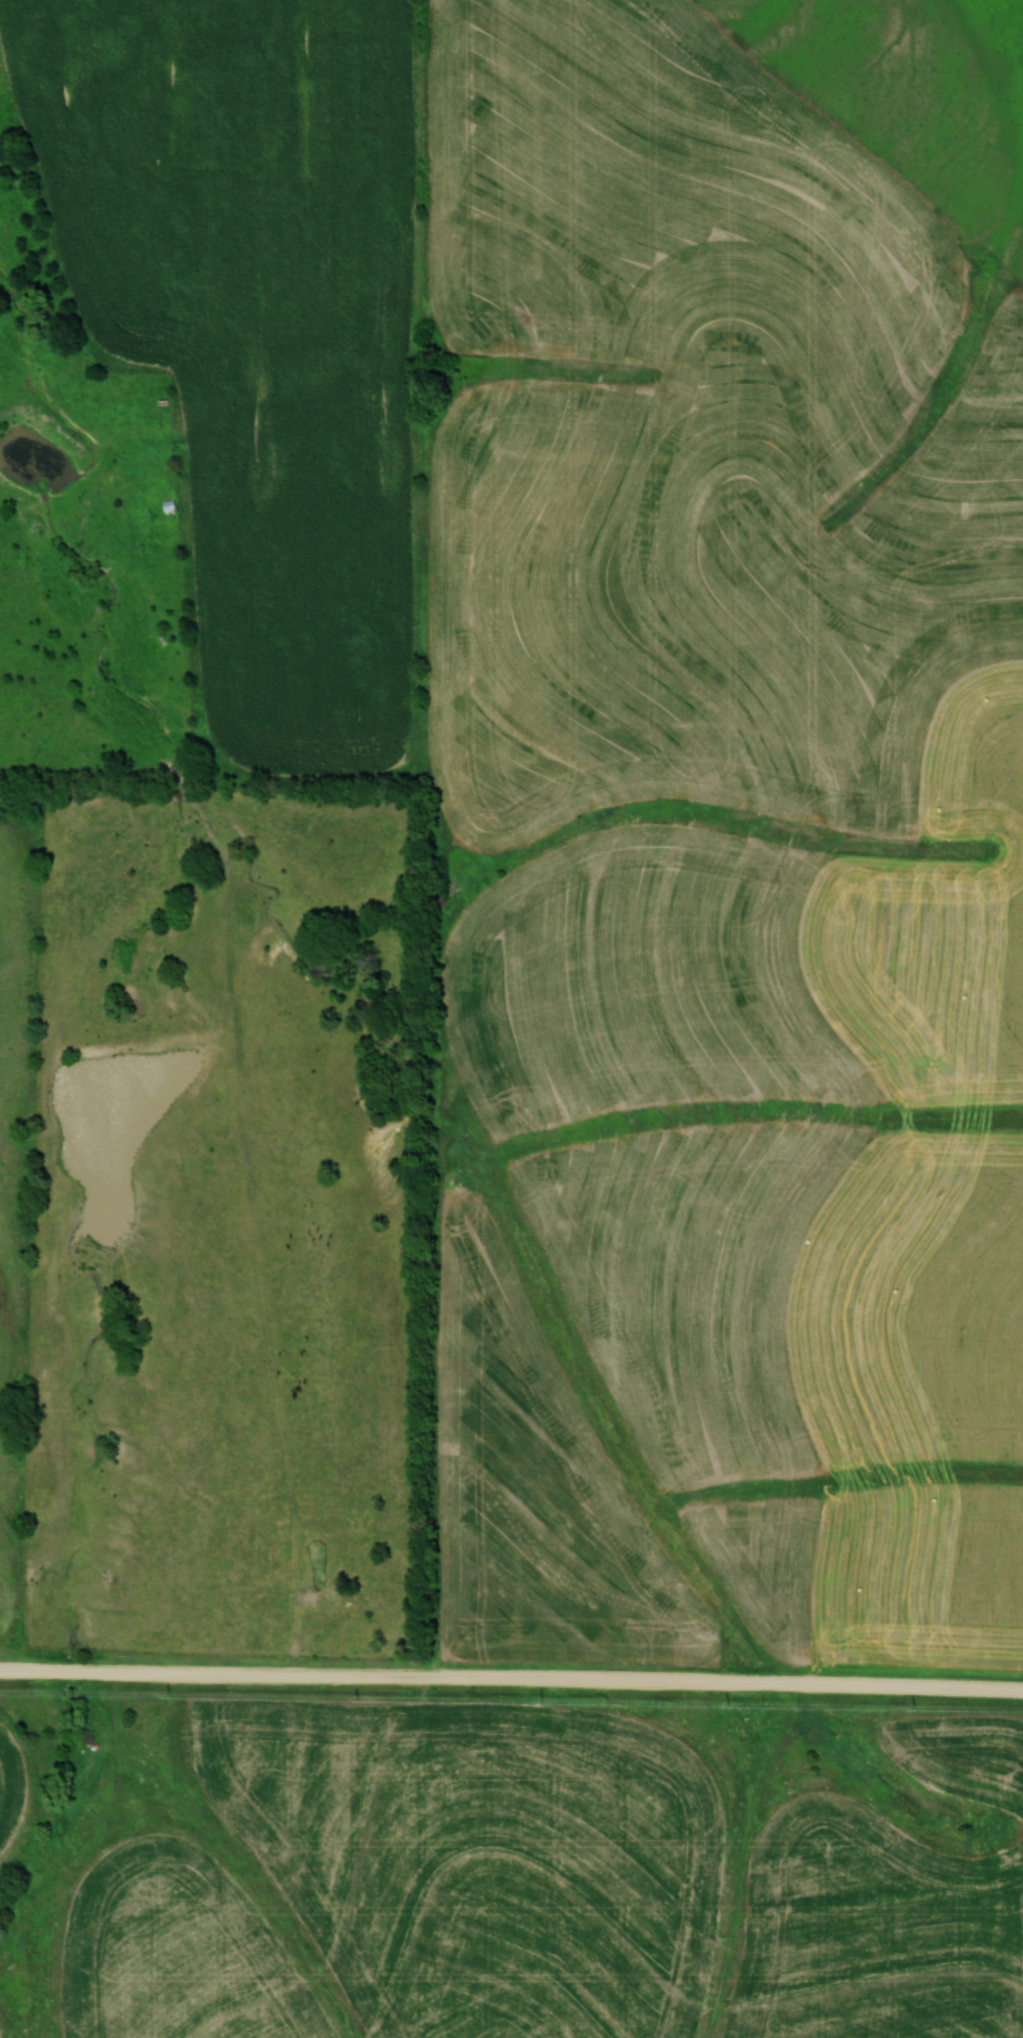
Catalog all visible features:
road: (511, 1681)

